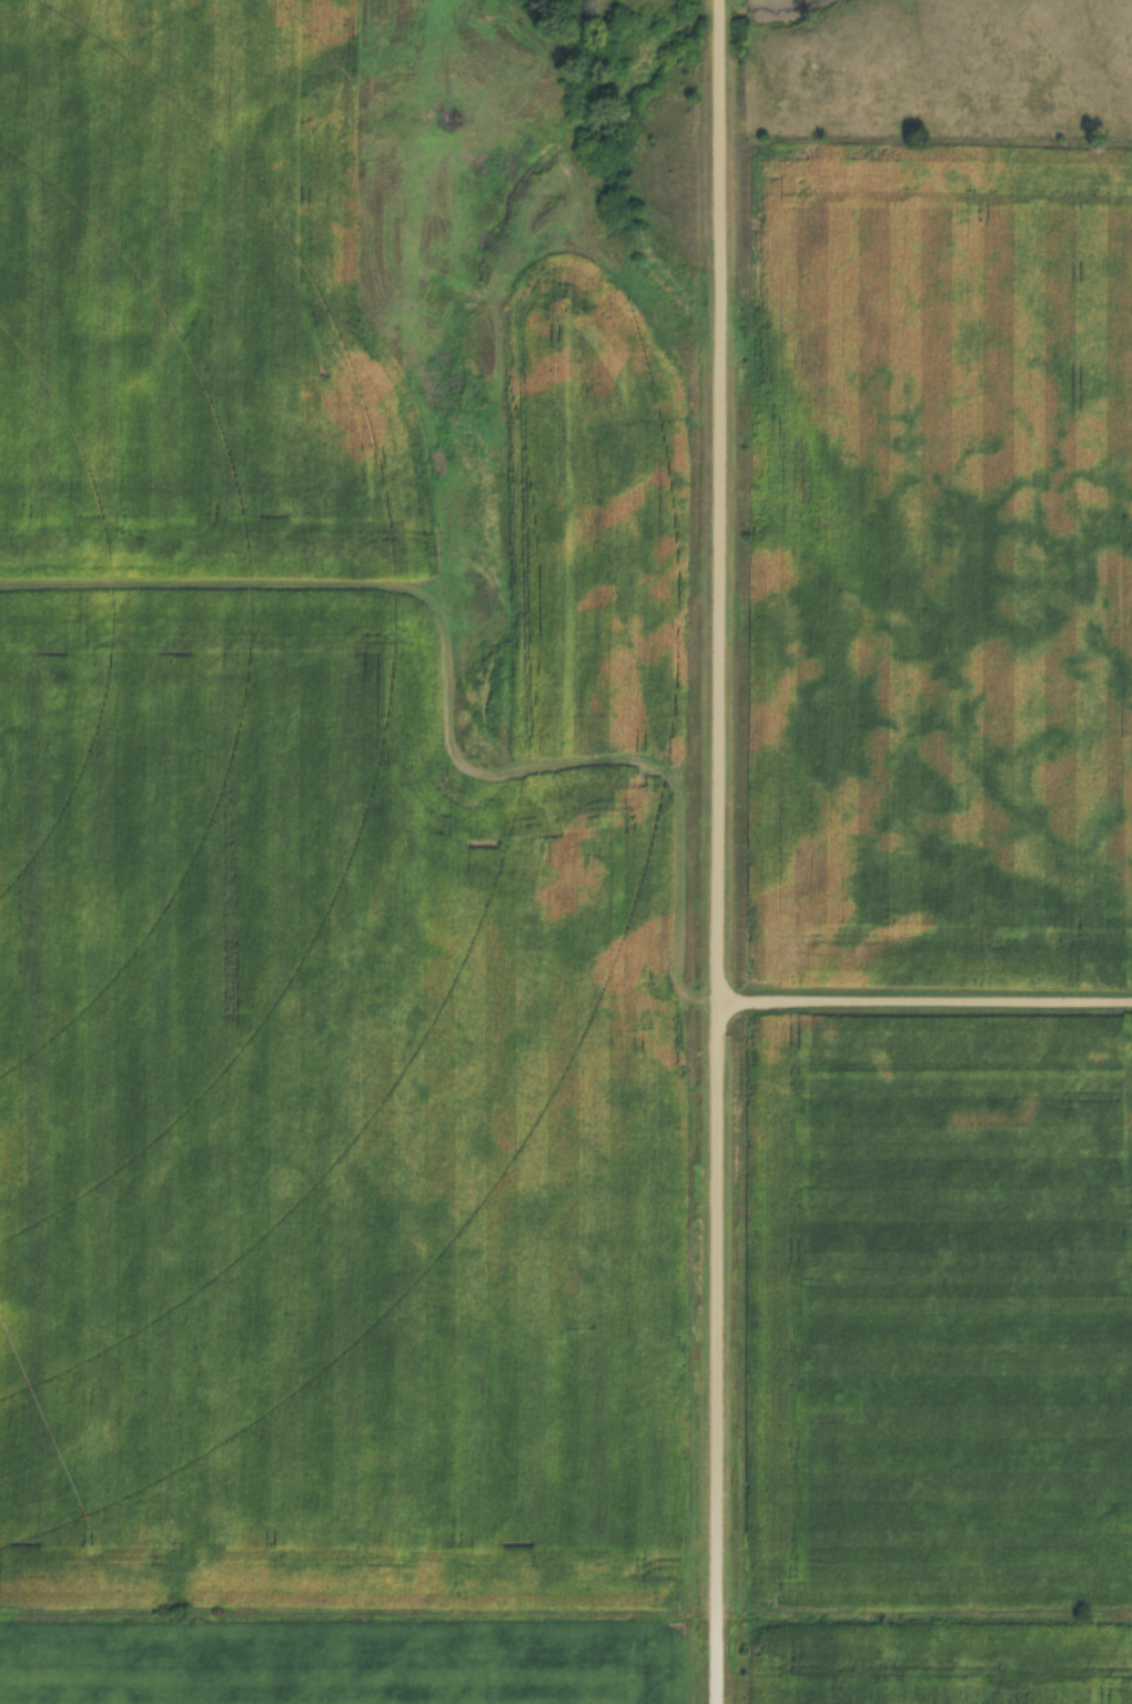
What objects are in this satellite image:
road: (716, 851)
road: (923, 1001)

